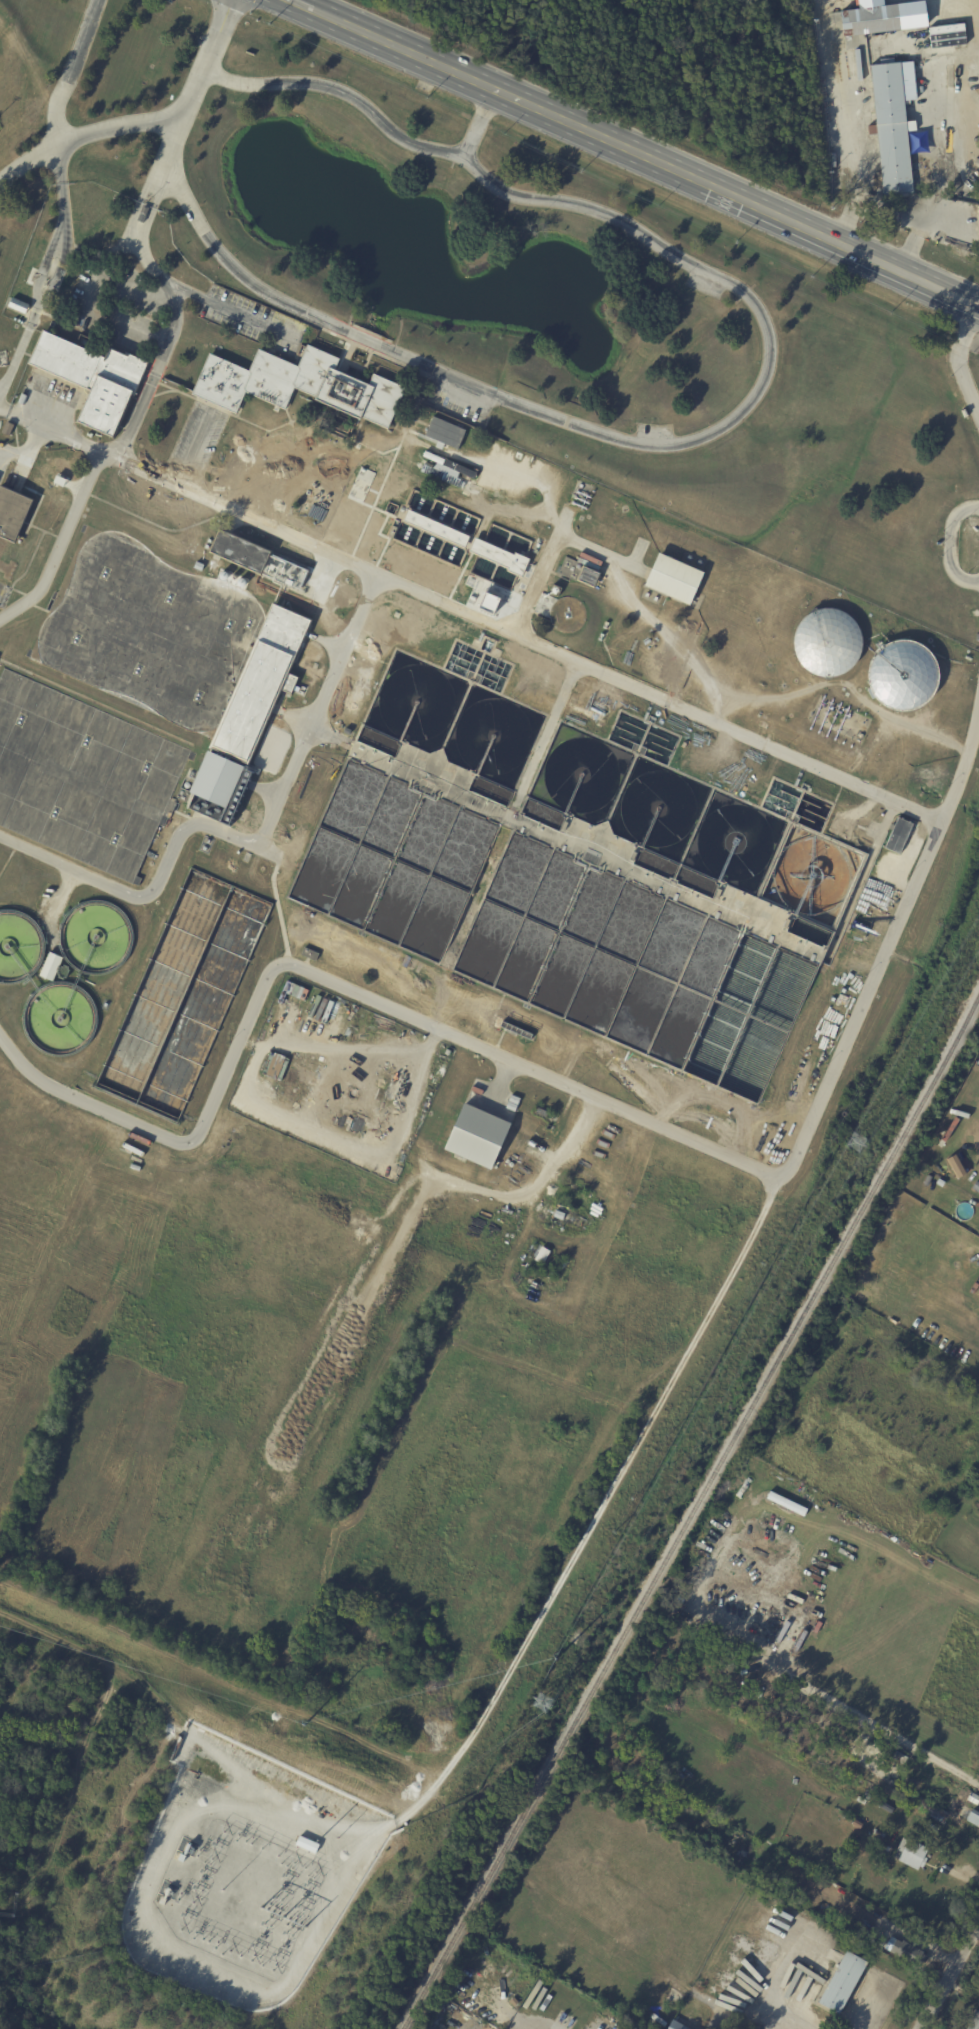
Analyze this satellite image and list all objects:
road: (299, 7)
road: (973, 10)
building: (879, 17)
road: (190, 101)
road: (844, 122)
road: (479, 123)
building: (891, 123)
road: (87, 136)
road: (647, 157)
road: (934, 172)
road: (65, 201)
building: (142, 208)
building: (15, 304)
road: (978, 308)
road: (173, 330)
road: (956, 361)
building: (87, 375)
building: (298, 383)
road: (756, 391)
road: (3, 406)
building: (5, 428)
building: (450, 429)
building: (88, 434)
parking lot: (197, 438)
road: (192, 446)
building: (441, 446)
building: (432, 457)
building: (446, 471)
building: (360, 483)
building: (71, 484)
building: (10, 511)
building: (116, 524)
building: (435, 527)
building: (392, 530)
road: (60, 542)
building: (150, 544)
road: (948, 544)
building: (221, 551)
building: (498, 556)
building: (577, 572)
building: (671, 578)
road: (474, 615)
building: (827, 640)
building: (903, 673)
building: (258, 680)
building: (858, 733)
building: (220, 784)
wastewater plant: (423, 854)
road: (65, 865)
building: (310, 954)
building: (53, 966)
building: (293, 990)
building: (357, 1010)
road: (15, 1051)
building: (274, 1065)
road: (586, 1093)
building: (541, 1112)
building: (949, 1131)
building: (476, 1139)
power tower: (856, 1140)
building: (954, 1166)
building: (262, 1187)
building: (559, 1216)
railway: (691, 1512)
road: (575, 1547)
power tower: (555, 1659)
road: (225, 1678)
power tower: (540, 1704)
power tower: (306, 1725)
building: (893, 1778)
building: (953, 1788)
building: (973, 1798)
building: (927, 1805)
building: (973, 1817)
building: (44, 1819)
building: (876, 1832)
building: (307, 1845)
building: (910, 1853)
building: (181, 1858)
power substation: (247, 1872)
building: (162, 1896)
building: (811, 1905)
building: (148, 1929)
building: (906, 1952)
road: (949, 1976)
building: (532, 1978)
building: (840, 1983)
road: (865, 2010)
building: (605, 2012)
building: (973, 2020)
building: (607, 2025)
building: (676, 2025)
building: (702, 2025)
building: (754, 2027)
building: (633, 2028)
building: (711, 2028)

